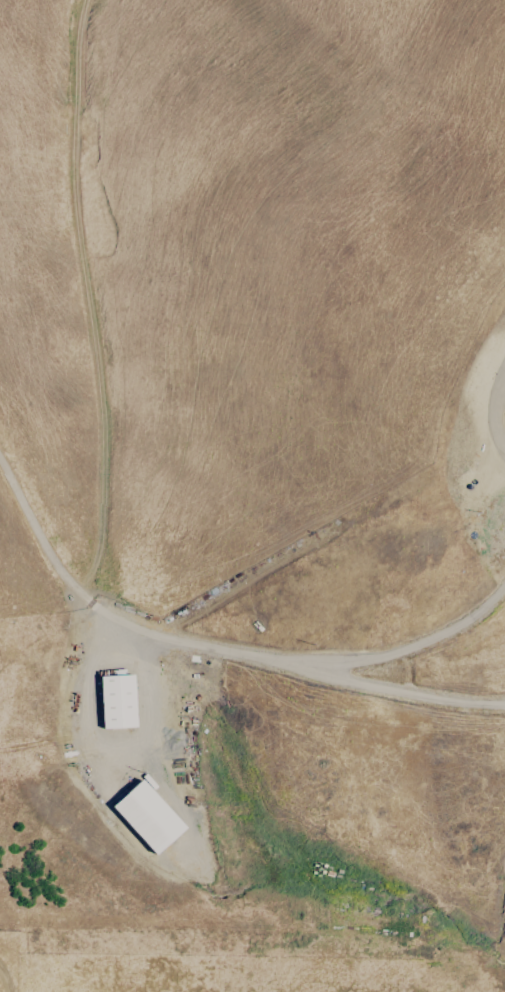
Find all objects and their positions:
building: (504, 414)
road: (208, 651)
road: (395, 655)
building: (118, 705)
building: (148, 818)

